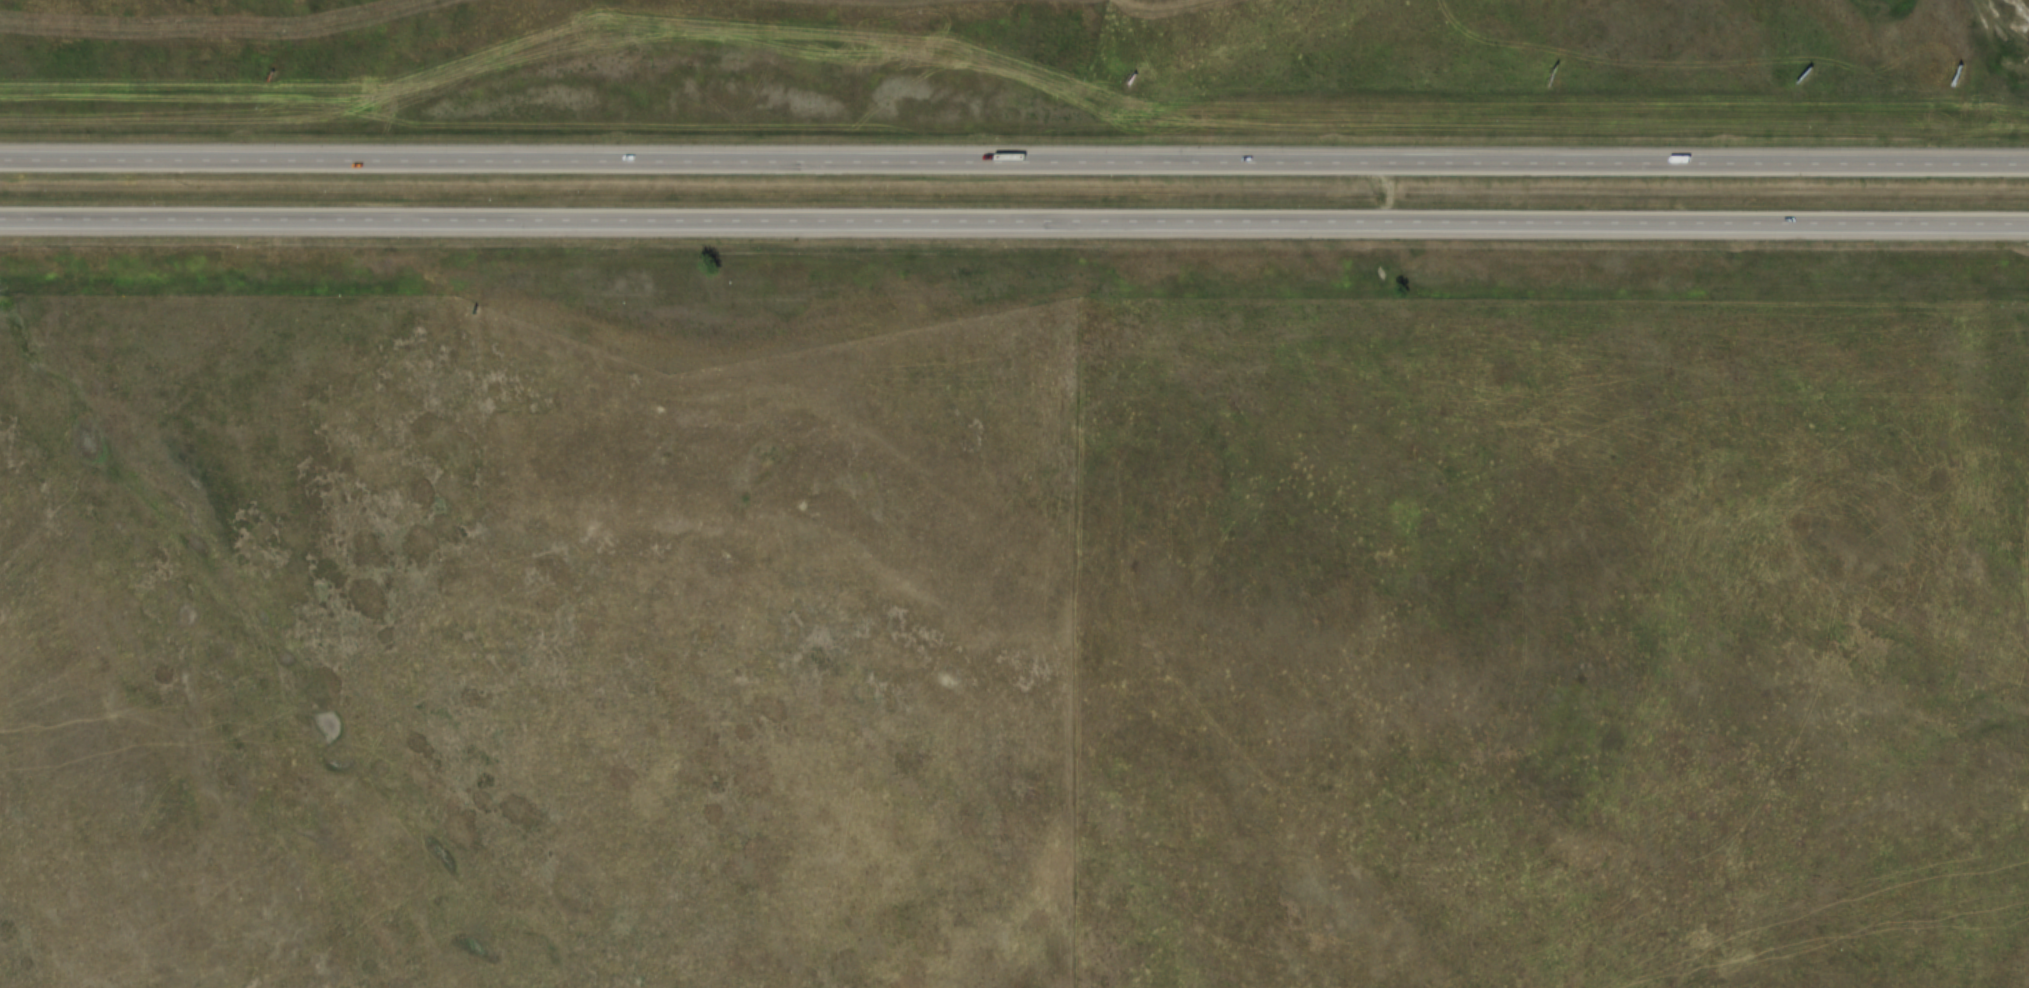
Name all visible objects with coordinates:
road: (1014, 160)
road: (1014, 221)

